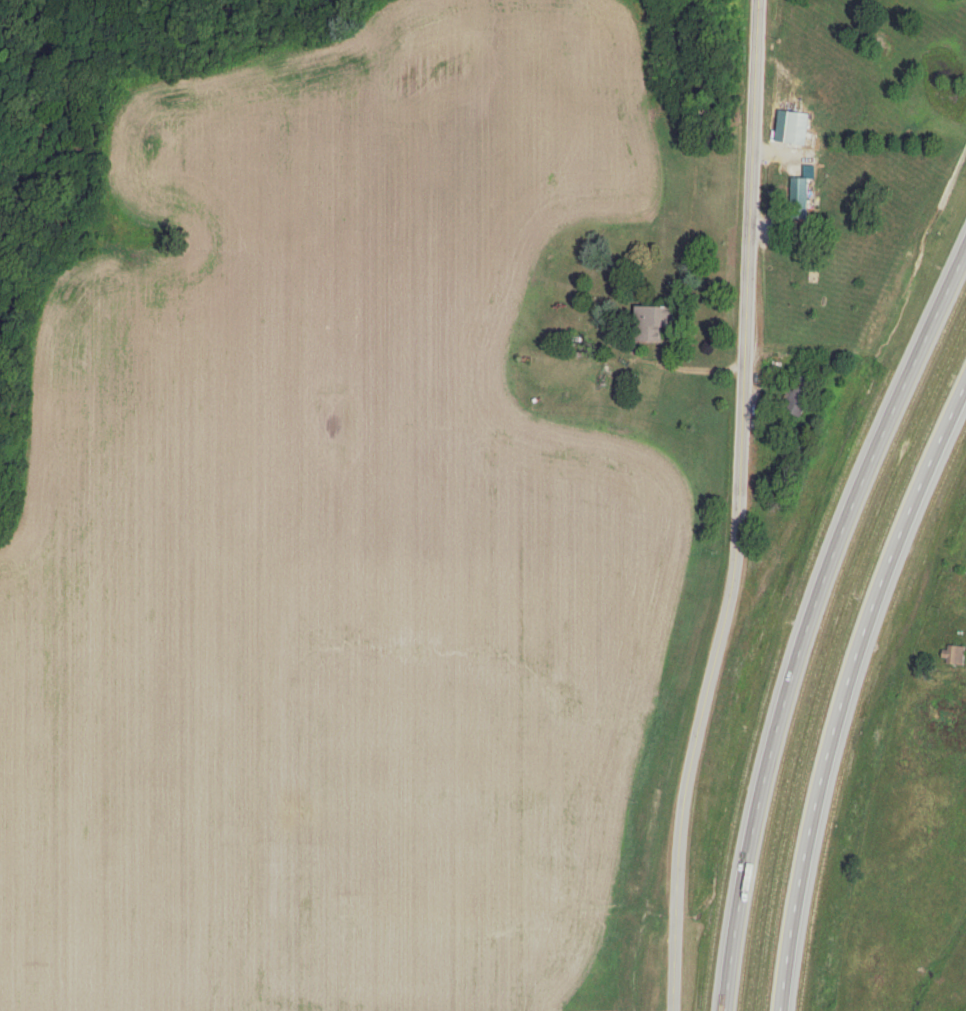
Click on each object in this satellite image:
building: (786, 137)
building: (800, 396)
road: (743, 510)
road: (809, 622)
building: (955, 655)
road: (847, 689)
road: (929, 706)

